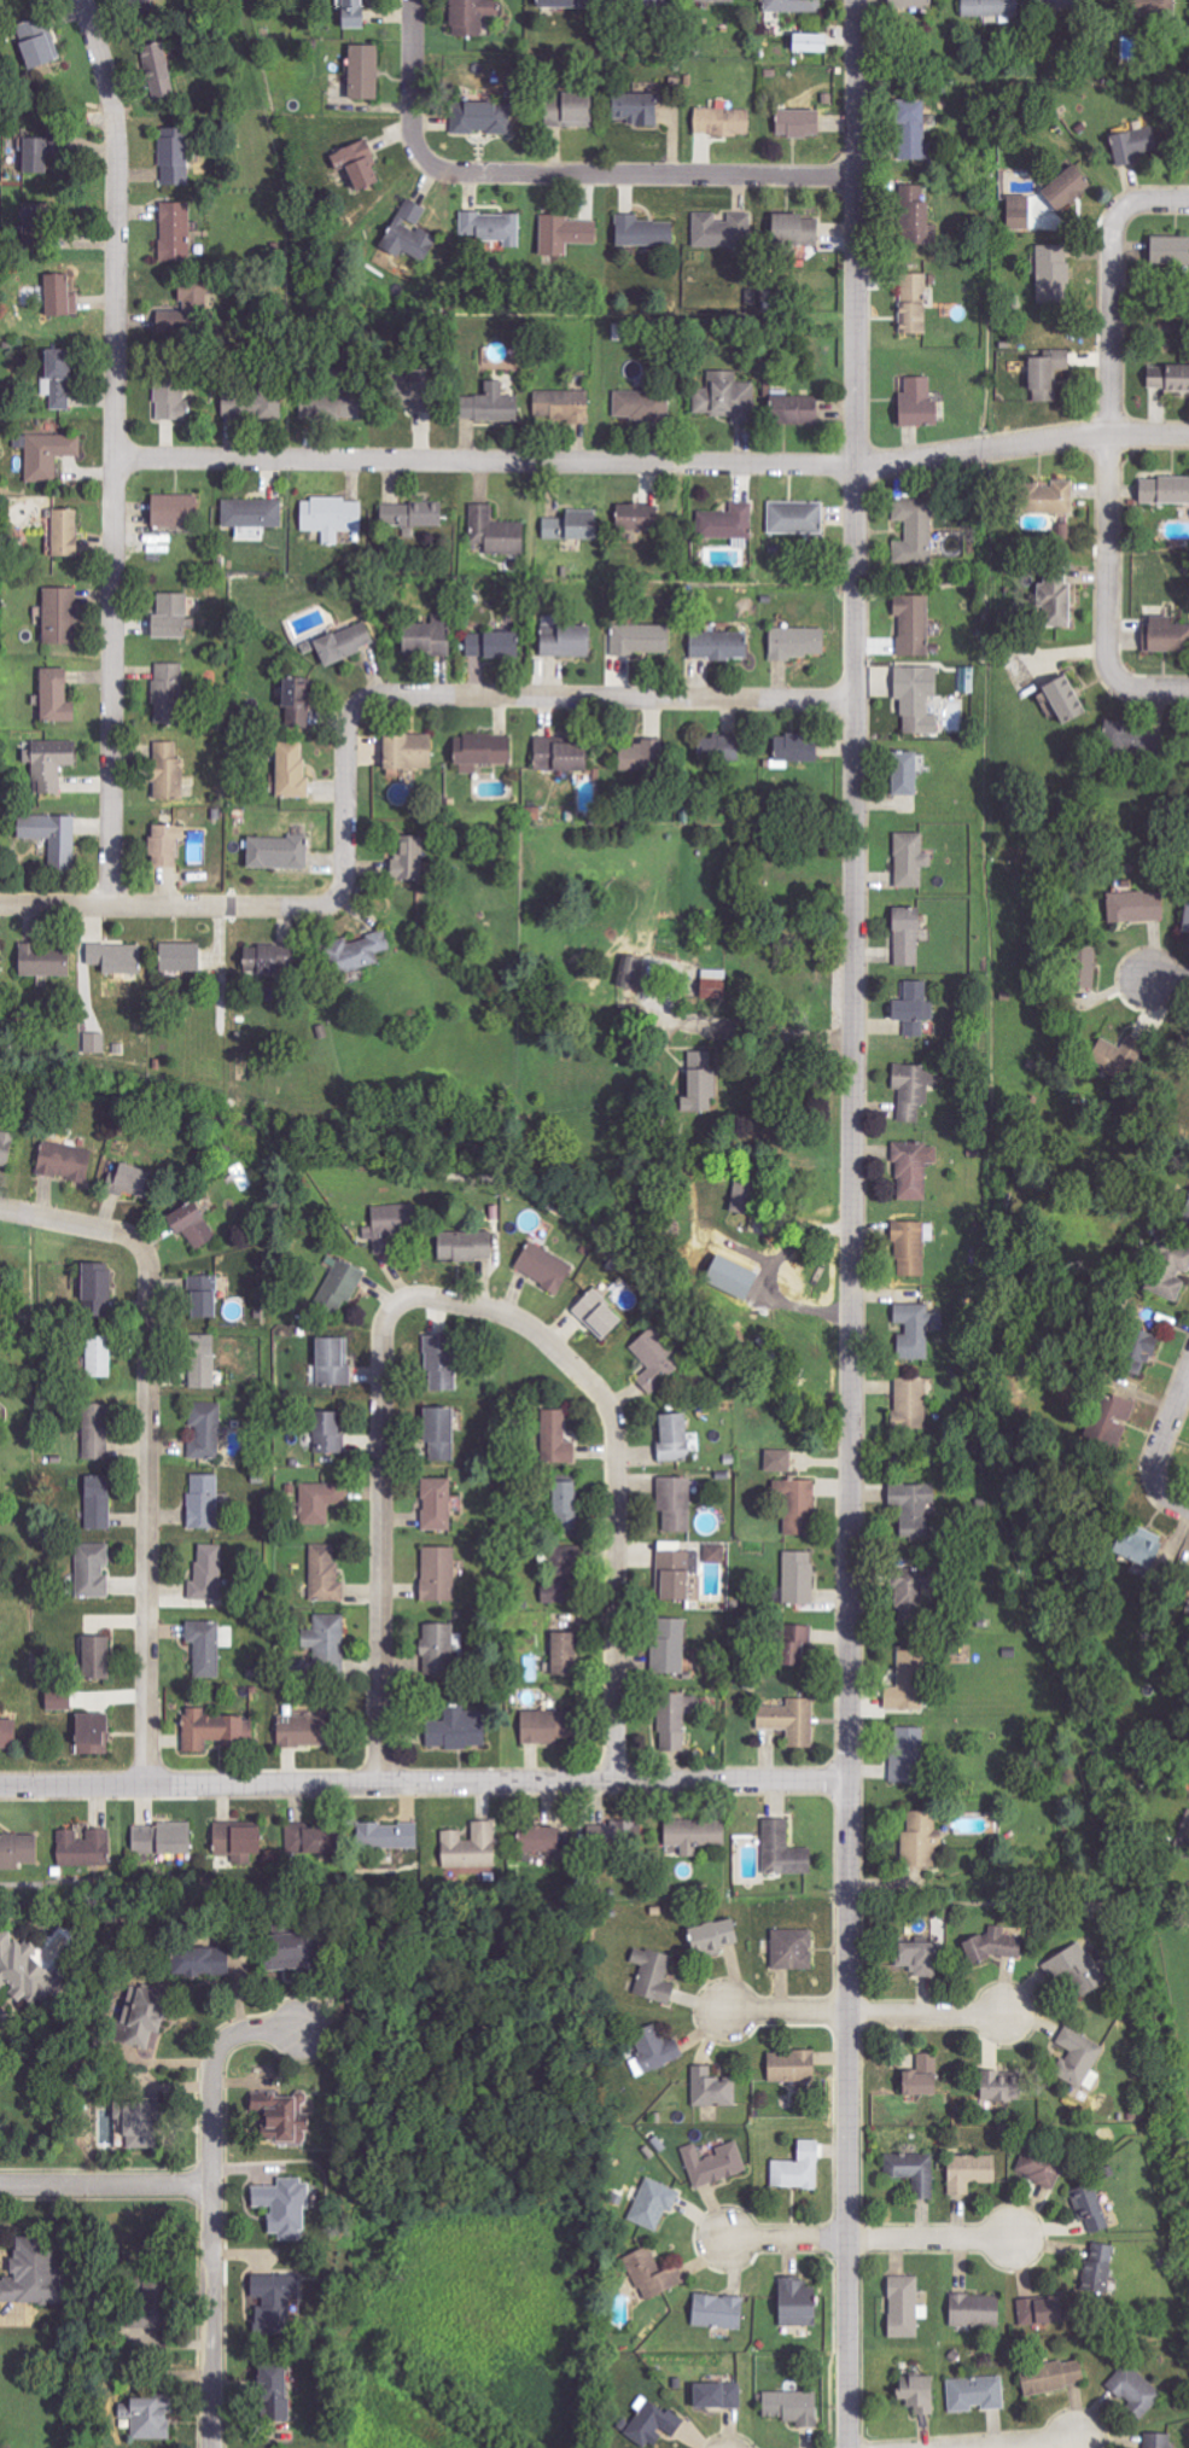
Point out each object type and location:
building: (713, 0)
building: (1050, 0)
building: (134, 1)
building: (552, 2)
building: (908, 4)
building: (792, 5)
building: (990, 8)
building: (352, 13)
building: (466, 17)
building: (37, 41)
building: (808, 41)
road: (99, 57)
building: (157, 69)
building: (363, 71)
road: (422, 84)
building: (633, 107)
building: (567, 109)
building: (479, 117)
building: (722, 121)
building: (795, 122)
building: (910, 129)
building: (1133, 144)
building: (28, 153)
building: (173, 156)
building: (355, 163)
road: (640, 173)
building: (1066, 185)
road: (1149, 200)
building: (1016, 211)
building: (913, 214)
building: (491, 227)
building: (728, 229)
building: (793, 229)
building: (641, 231)
building: (174, 232)
building: (408, 232)
building: (564, 233)
building: (1168, 250)
building: (1053, 270)
building: (58, 296)
building: (913, 302)
road: (1112, 321)
building: (1047, 373)
building: (57, 377)
building: (1167, 377)
building: (404, 394)
building: (169, 400)
building: (915, 402)
building: (645, 403)
building: (264, 404)
building: (327, 404)
building: (488, 404)
building: (560, 406)
building: (792, 409)
building: (48, 454)
road: (654, 461)
building: (1164, 490)
building: (1044, 507)
road: (117, 509)
building: (171, 509)
building: (251, 512)
building: (409, 514)
building: (634, 515)
building: (330, 517)
building: (795, 517)
building: (727, 521)
building: (566, 526)
building: (495, 531)
building: (914, 531)
building: (63, 532)
road: (1108, 549)
building: (1054, 596)
building: (58, 616)
building: (168, 616)
building: (914, 624)
building: (1165, 635)
building: (425, 636)
building: (640, 640)
building: (344, 642)
building: (566, 642)
building: (797, 642)
building: (491, 645)
building: (717, 645)
building: (967, 678)
building: (168, 683)
road: (1143, 690)
building: (54, 695)
road: (619, 696)
building: (916, 696)
building: (1062, 699)
building: (295, 701)
building: (1136, 739)
building: (724, 747)
building: (795, 747)
building: (406, 751)
building: (482, 751)
building: (558, 754)
building: (639, 757)
building: (47, 763)
building: (291, 769)
building: (167, 770)
building: (903, 773)
building: (531, 812)
building: (52, 838)
building: (163, 844)
building: (276, 852)
building: (407, 858)
building: (909, 859)
building: (1135, 904)
road: (281, 907)
building: (1185, 917)
building: (905, 937)
building: (354, 952)
building: (112, 957)
building: (177, 957)
building: (42, 960)
building: (263, 962)
building: (1082, 967)
building: (0, 972)
building: (630, 972)
road: (1167, 978)
building: (913, 1008)
road: (757, 1024)
building: (95, 1043)
building: (1106, 1055)
building: (699, 1082)
building: (914, 1088)
building: (5, 1148)
building: (64, 1160)
building: (913, 1168)
building: (742, 1196)
building: (1187, 1210)
road: (69, 1220)
road: (853, 1223)
building: (190, 1224)
building: (389, 1226)
building: (464, 1246)
building: (909, 1249)
building: (542, 1266)
building: (1170, 1271)
building: (339, 1284)
building: (94, 1289)
building: (202, 1296)
road: (495, 1310)
building: (596, 1313)
building: (914, 1329)
building: (1133, 1352)
building: (98, 1357)
building: (653, 1360)
building: (202, 1362)
building: (332, 1362)
building: (438, 1362)
building: (911, 1403)
building: (1111, 1422)
building: (206, 1430)
building: (95, 1432)
building: (438, 1433)
building: (326, 1434)
building: (556, 1438)
building: (672, 1438)
road: (1160, 1451)
building: (777, 1461)
building: (97, 1502)
building: (204, 1502)
building: (319, 1503)
building: (564, 1503)
building: (675, 1503)
building: (437, 1504)
building: (799, 1508)
road: (147, 1509)
building: (913, 1509)
building: (1135, 1545)
road: (383, 1549)
building: (715, 1554)
building: (92, 1569)
building: (326, 1573)
road: (616, 1573)
building: (675, 1573)
building: (209, 1574)
building: (437, 1574)
building: (798, 1579)
building: (907, 1589)
building: (1188, 1591)
building: (328, 1644)
building: (792, 1644)
building: (669, 1646)
building: (205, 1648)
building: (438, 1649)
building: (564, 1654)
building: (94, 1659)
building: (907, 1683)
building: (59, 1701)
building: (675, 1720)
building: (789, 1721)
building: (538, 1727)
building: (212, 1730)
building: (455, 1730)
building: (302, 1731)
building: (6, 1733)
building: (91, 1735)
building: (905, 1756)
road: (424, 1780)
building: (391, 1835)
building: (613, 1835)
building: (693, 1835)
building: (1183, 1838)
building: (235, 1840)
building: (543, 1840)
building: (921, 1840)
building: (164, 1841)
building: (297, 1843)
building: (472, 1847)
building: (83, 1848)
building: (18, 1850)
building: (782, 1850)
road: (1021, 1900)
building: (712, 1937)
building: (993, 1945)
building: (791, 1948)
building: (281, 1949)
building: (916, 1957)
building: (194, 1960)
building: (1077, 1966)
building: (18, 1969)
building: (653, 1974)
road: (867, 2012)
building: (658, 2047)
building: (1079, 2058)
building: (791, 2065)
building: (917, 2082)
building: (996, 2086)
building: (712, 2087)
building: (285, 2116)
building: (134, 2122)
building: (713, 2163)
building: (1041, 2166)
building: (797, 2167)
building: (914, 2172)
building: (971, 2172)
road: (105, 2184)
road: (210, 2202)
building: (653, 2203)
building: (1089, 2205)
building: (284, 2207)
road: (870, 2238)
building: (1096, 2268)
building: (29, 2272)
building: (652, 2273)
building: (139, 2302)
building: (794, 2303)
building: (270, 2304)
building: (903, 2307)
building: (1039, 2309)
building: (717, 2310)
building: (974, 2310)
building: (1051, 2376)
building: (270, 2389)
building: (1135, 2389)
building: (975, 2392)
building: (919, 2394)
building: (716, 2395)
building: (789, 2406)
building: (147, 2418)
building: (652, 2423)
building: (1155, 2440)
road: (1033, 2443)

